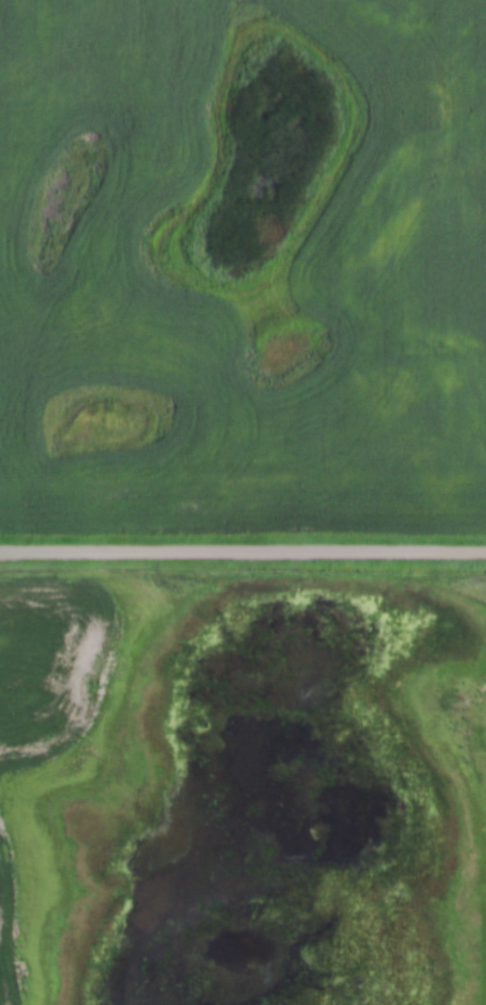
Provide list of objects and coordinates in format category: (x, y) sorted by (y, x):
road: (242, 549)

